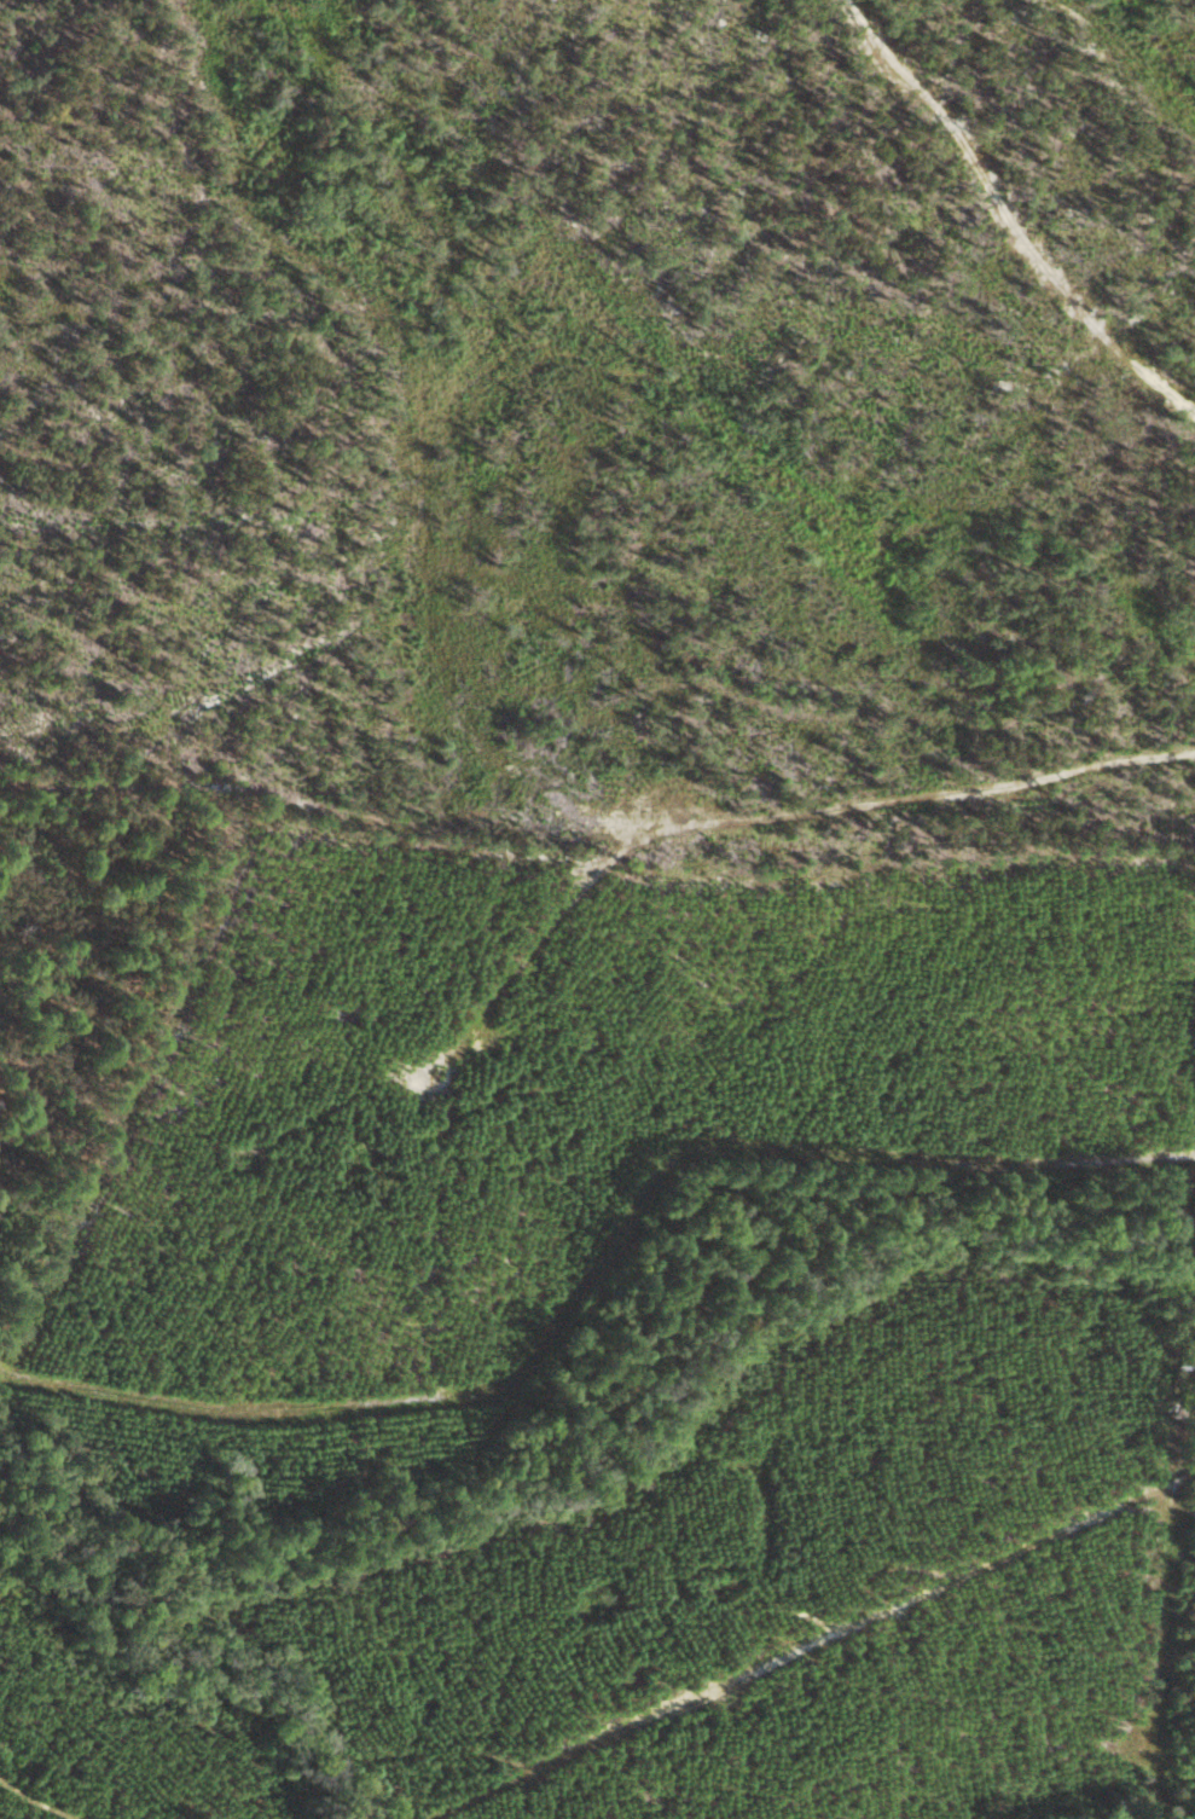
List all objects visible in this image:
road: (1189, 1478)

